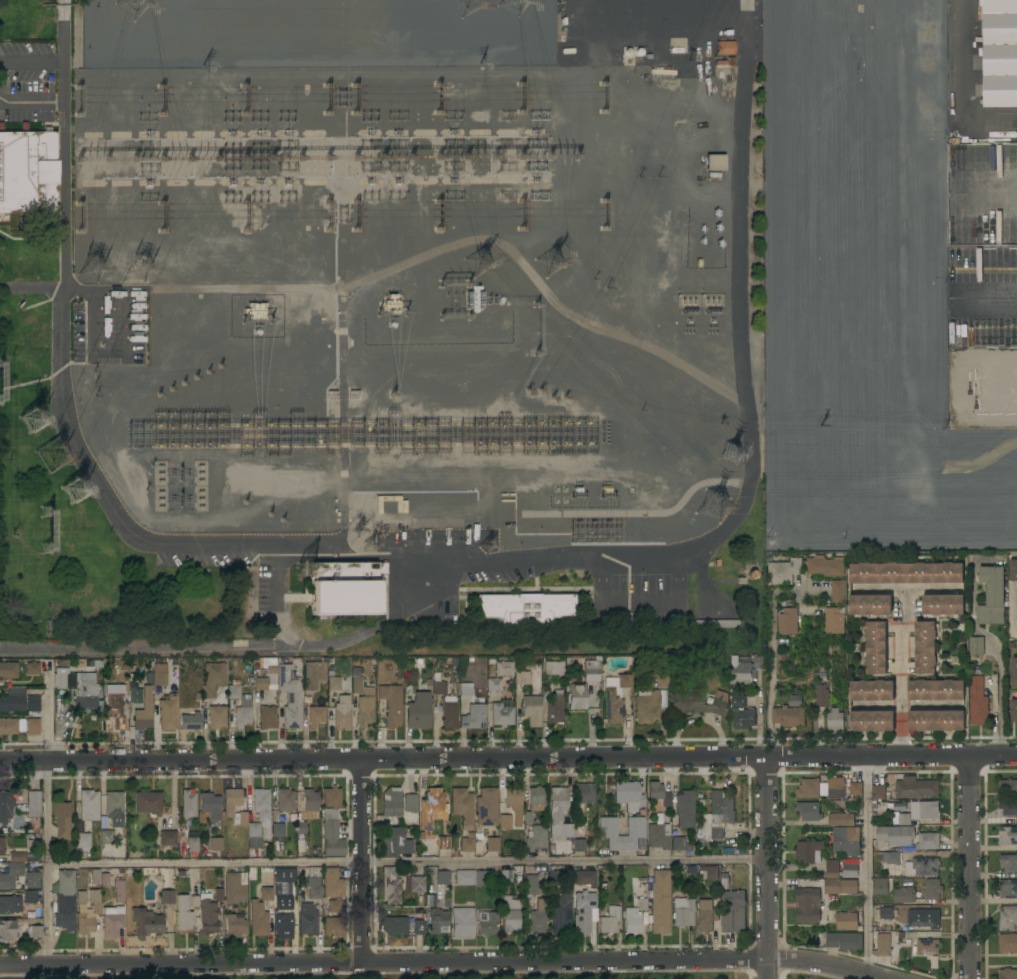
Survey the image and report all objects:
road: (64, 1)
power tower: (132, 1)
power tower: (467, 1)
building: (850, 1)
building: (97, 17)
building: (269, 25)
building: (346, 29)
building: (521, 39)
building: (88, 41)
building: (846, 44)
building: (725, 47)
building: (1000, 53)
building: (723, 60)
building: (328, 62)
building: (873, 71)
building: (662, 72)
road: (64, 80)
building: (1000, 156)
building: (715, 163)
building: (27, 171)
road: (65, 224)
building: (1015, 230)
power tower: (479, 256)
power tower: (552, 260)
power tower: (94, 264)
power tower: (139, 264)
building: (474, 299)
building: (255, 311)
power substation: (377, 325)
power tower: (222, 365)
building: (1016, 369)
power tower: (209, 372)
power tower: (196, 379)
power tower: (183, 385)
power tower: (173, 391)
power tower: (159, 395)
power tower: (38, 425)
power tower: (730, 449)
power tower: (59, 457)
power tower: (152, 465)
power tower: (148, 489)
power tower: (79, 491)
power tower: (712, 502)
power tower: (246, 503)
power tower: (270, 511)
power tower: (358, 530)
power tower: (48, 532)
power tower: (372, 545)
power tower: (486, 546)
building: (825, 566)
building: (1013, 570)
building: (784, 571)
building: (910, 572)
building: (346, 588)
building: (838, 590)
building: (992, 596)
building: (942, 604)
building: (870, 605)
building: (525, 608)
road: (1013, 611)
building: (834, 620)
building: (788, 621)
building: (718, 623)
building: (976, 646)
building: (925, 647)
building: (875, 648)
road: (996, 653)
road: (771, 655)
building: (250, 659)
building: (86, 660)
building: (478, 660)
building: (331, 661)
building: (419, 661)
building: (454, 661)
building: (491, 661)
building: (97, 664)
building: (441, 664)
building: (123, 665)
building: (553, 666)
building: (247, 667)
building: (503, 668)
building: (32, 669)
building: (746, 669)
building: (1014, 669)
building: (8, 670)
building: (591, 671)
building: (331, 672)
building: (271, 673)
road: (899, 673)
building: (158, 674)
building: (313, 674)
building: (481, 674)
building: (131, 676)
building: (385, 677)
building: (521, 677)
building: (213, 678)
building: (249, 679)
building: (661, 681)
building: (334, 683)
building: (131, 684)
building: (260, 684)
building: (478, 685)
building: (494, 685)
building: (465, 687)
building: (442, 688)
building: (79, 689)
building: (871, 690)
building: (935, 690)
building: (481, 694)
building: (721, 695)
building: (135, 696)
building: (199, 696)
building: (290, 696)
building: (576, 696)
building: (821, 696)
building: (615, 697)
building: (363, 700)
building: (978, 702)
building: (12, 703)
building: (33, 703)
building: (391, 704)
building: (696, 704)
building: (115, 705)
building: (648, 705)
building: (239, 707)
building: (531, 710)
building: (554, 710)
building: (1013, 710)
building: (144, 711)
building: (418, 711)
building: (167, 712)
building: (449, 712)
building: (502, 713)
building: (741, 714)
building: (316, 716)
building: (342, 716)
building: (788, 716)
building: (216, 717)
building: (473, 717)
building: (265, 718)
road: (47, 720)
building: (834, 720)
building: (872, 721)
building: (935, 721)
building: (190, 722)
building: (9, 726)
building: (32, 726)
building: (22, 728)
road: (508, 761)
building: (1007, 787)
building: (916, 788)
building: (808, 789)
building: (856, 789)
building: (823, 790)
building: (836, 791)
building: (877, 794)
building: (583, 795)
building: (628, 795)
building: (658, 795)
building: (537, 798)
building: (285, 800)
building: (310, 800)
building: (391, 802)
building: (514, 802)
building: (699, 802)
building: (148, 803)
building: (410, 803)
building: (33, 804)
building: (188, 804)
building: (89, 805)
building: (210, 806)
building: (462, 806)
building: (5, 807)
building: (486, 807)
building: (1008, 807)
building: (114, 808)
building: (432, 808)
building: (685, 808)
building: (899, 808)
building: (262, 810)
building: (926, 810)
building: (809, 811)
building: (239, 812)
building: (559, 814)
building: (717, 816)
building: (528, 818)
building: (62, 819)
building: (841, 819)
building: (904, 819)
building: (505, 822)
building: (103, 823)
building: (332, 823)
building: (636, 827)
building: (302, 829)
building: (278, 830)
building: (659, 834)
building: (478, 835)
building: (896, 835)
building: (1007, 836)
building: (106, 837)
building: (167, 837)
building: (535, 838)
building: (83, 840)
building: (846, 841)
building: (927, 841)
building: (396, 842)
building: (442, 842)
building: (467, 843)
building: (6, 844)
building: (192, 844)
building: (216, 844)
building: (492, 844)
building: (579, 845)
building: (681, 846)
building: (809, 851)
building: (202, 855)
building: (17, 857)
building: (32, 857)
building: (889, 857)
road: (565, 859)
road: (205, 861)
road: (364, 862)
building: (1008, 863)
road: (46, 865)
road: (867, 867)
building: (922, 867)
building: (850, 868)
road: (765, 869)
building: (832, 869)
road: (970, 869)
building: (130, 872)
building: (180, 872)
building: (708, 872)
building: (11, 874)
building: (285, 874)
building: (506, 876)
building: (464, 877)
building: (99, 878)
building: (442, 878)
building: (481, 878)
building: (584, 878)
building: (32, 879)
building: (555, 880)
building: (65, 882)
building: (333, 882)
building: (313, 883)
building: (392, 883)
building: (415, 884)
building: (531, 885)
building: (723, 885)
building: (840, 886)
building: (880, 886)
building: (235, 888)
building: (932, 889)
building: (1008, 889)
building: (118, 890)
building: (280, 890)
building: (218, 893)
building: (904, 895)
building: (267, 896)
building: (29, 897)
building: (81, 897)
building: (167, 897)
building: (421, 899)
building: (431, 900)
building: (66, 901)
building: (194, 901)
building: (292, 901)
building: (446, 902)
building: (659, 902)
building: (10, 904)
building: (642, 904)
building: (807, 905)
building: (335, 906)
building: (583, 911)
building: (733, 911)
building: (88, 913)
building: (561, 913)
building: (682, 913)
building: (886, 913)
building: (208, 914)
building: (706, 915)
building: (183, 916)
building: (510, 917)
building: (538, 917)
building: (1007, 918)
building: (258, 919)
building: (307, 919)
building: (927, 919)
building: (64, 920)
building: (609, 920)
building: (282, 921)
building: (437, 921)
building: (846, 921)
building: (112, 922)
building: (146, 922)
building: (462, 923)
building: (486, 923)
building: (632, 924)
building: (395, 925)
building: (235, 926)
building: (333, 926)
building: (418, 927)
building: (7, 930)
building: (35, 932)
building: (844, 941)
building: (1007, 943)
building: (882, 945)
building: (926, 947)
road: (442, 962)
building: (1008, 974)

